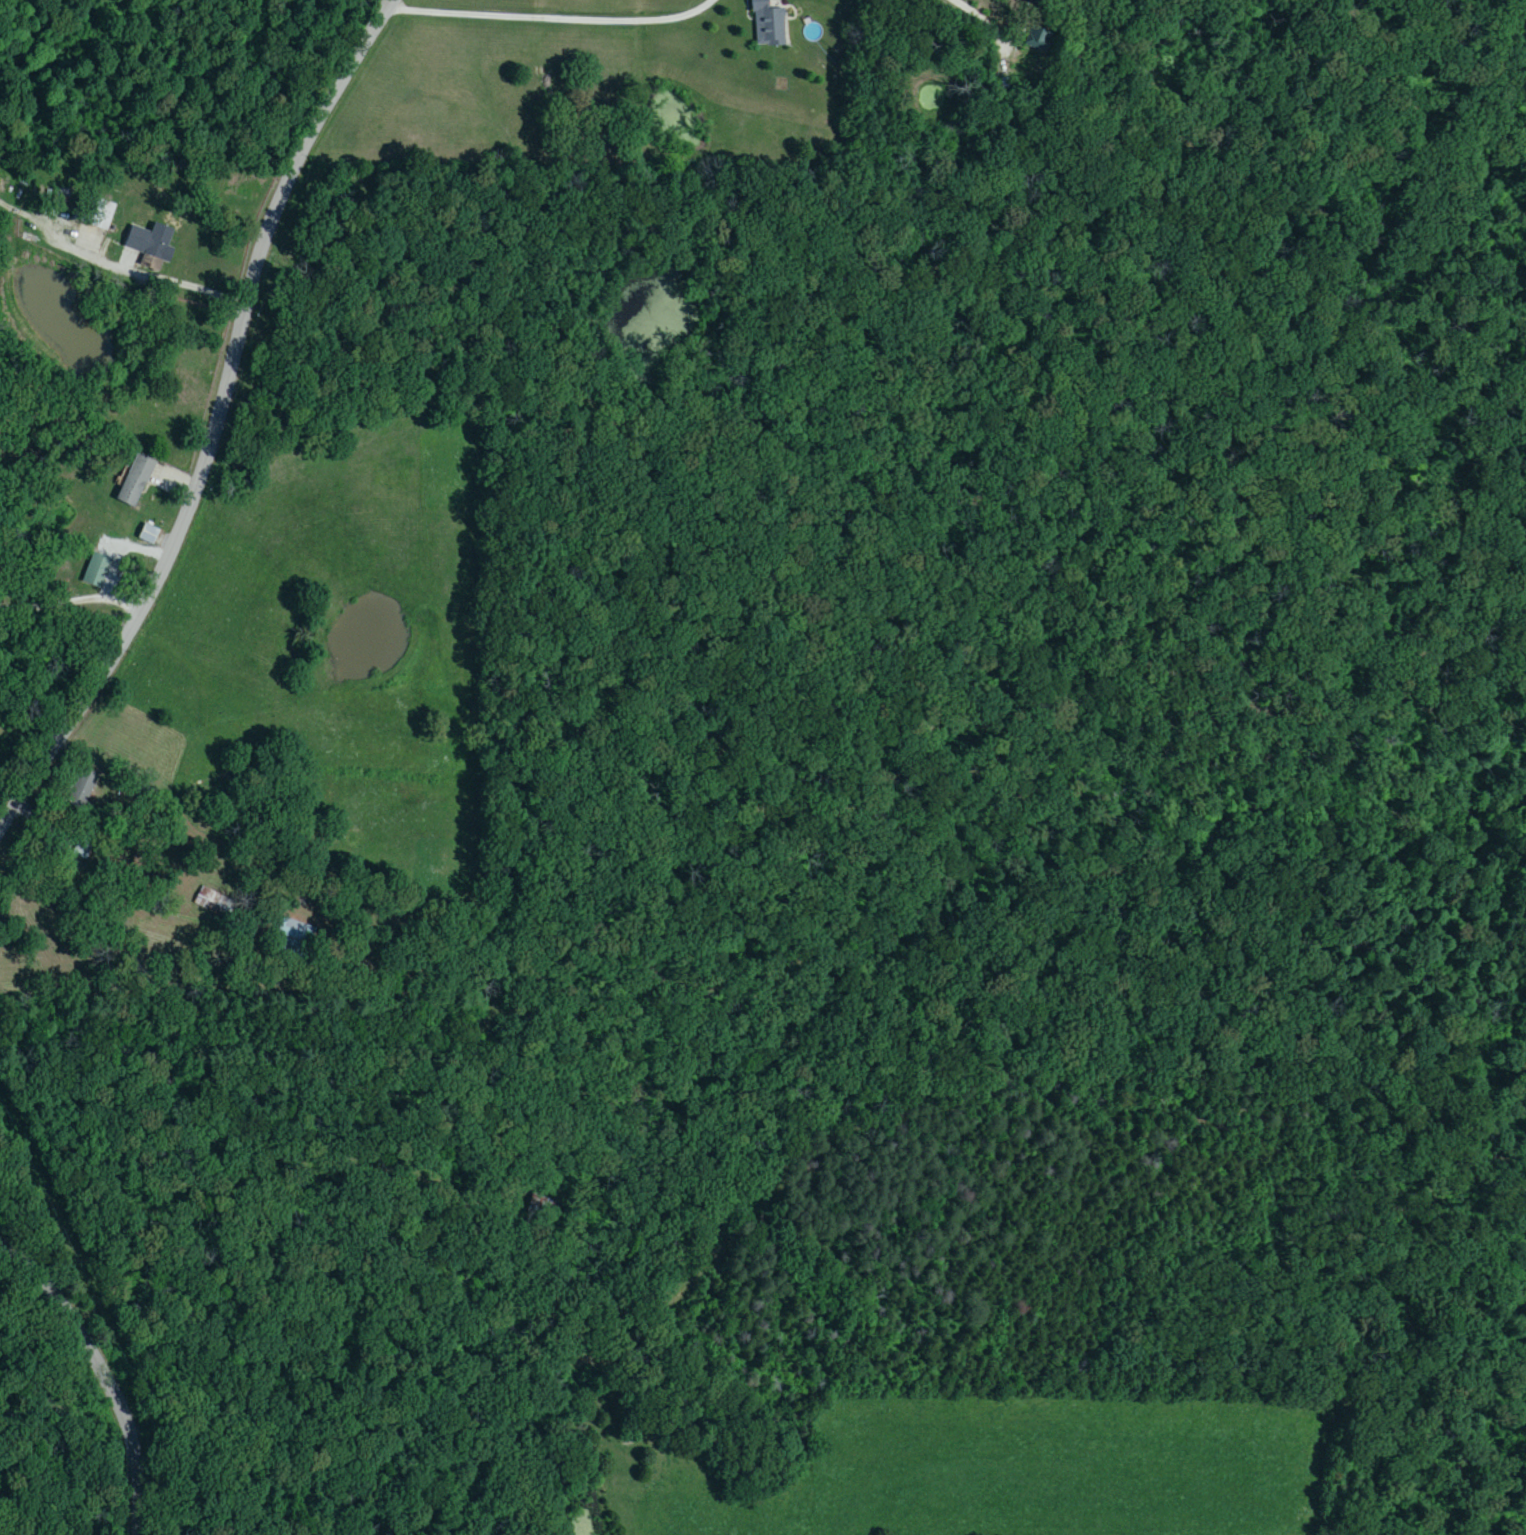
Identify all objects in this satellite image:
road: (977, 0)
road: (550, 18)
building: (769, 23)
building: (155, 245)
road: (161, 275)
road: (216, 424)
building: (136, 481)
building: (149, 535)
building: (97, 571)
road: (72, 600)
road: (205, 730)
building: (83, 790)
building: (212, 902)
building: (295, 934)
building: (542, 1206)
road: (106, 1368)

